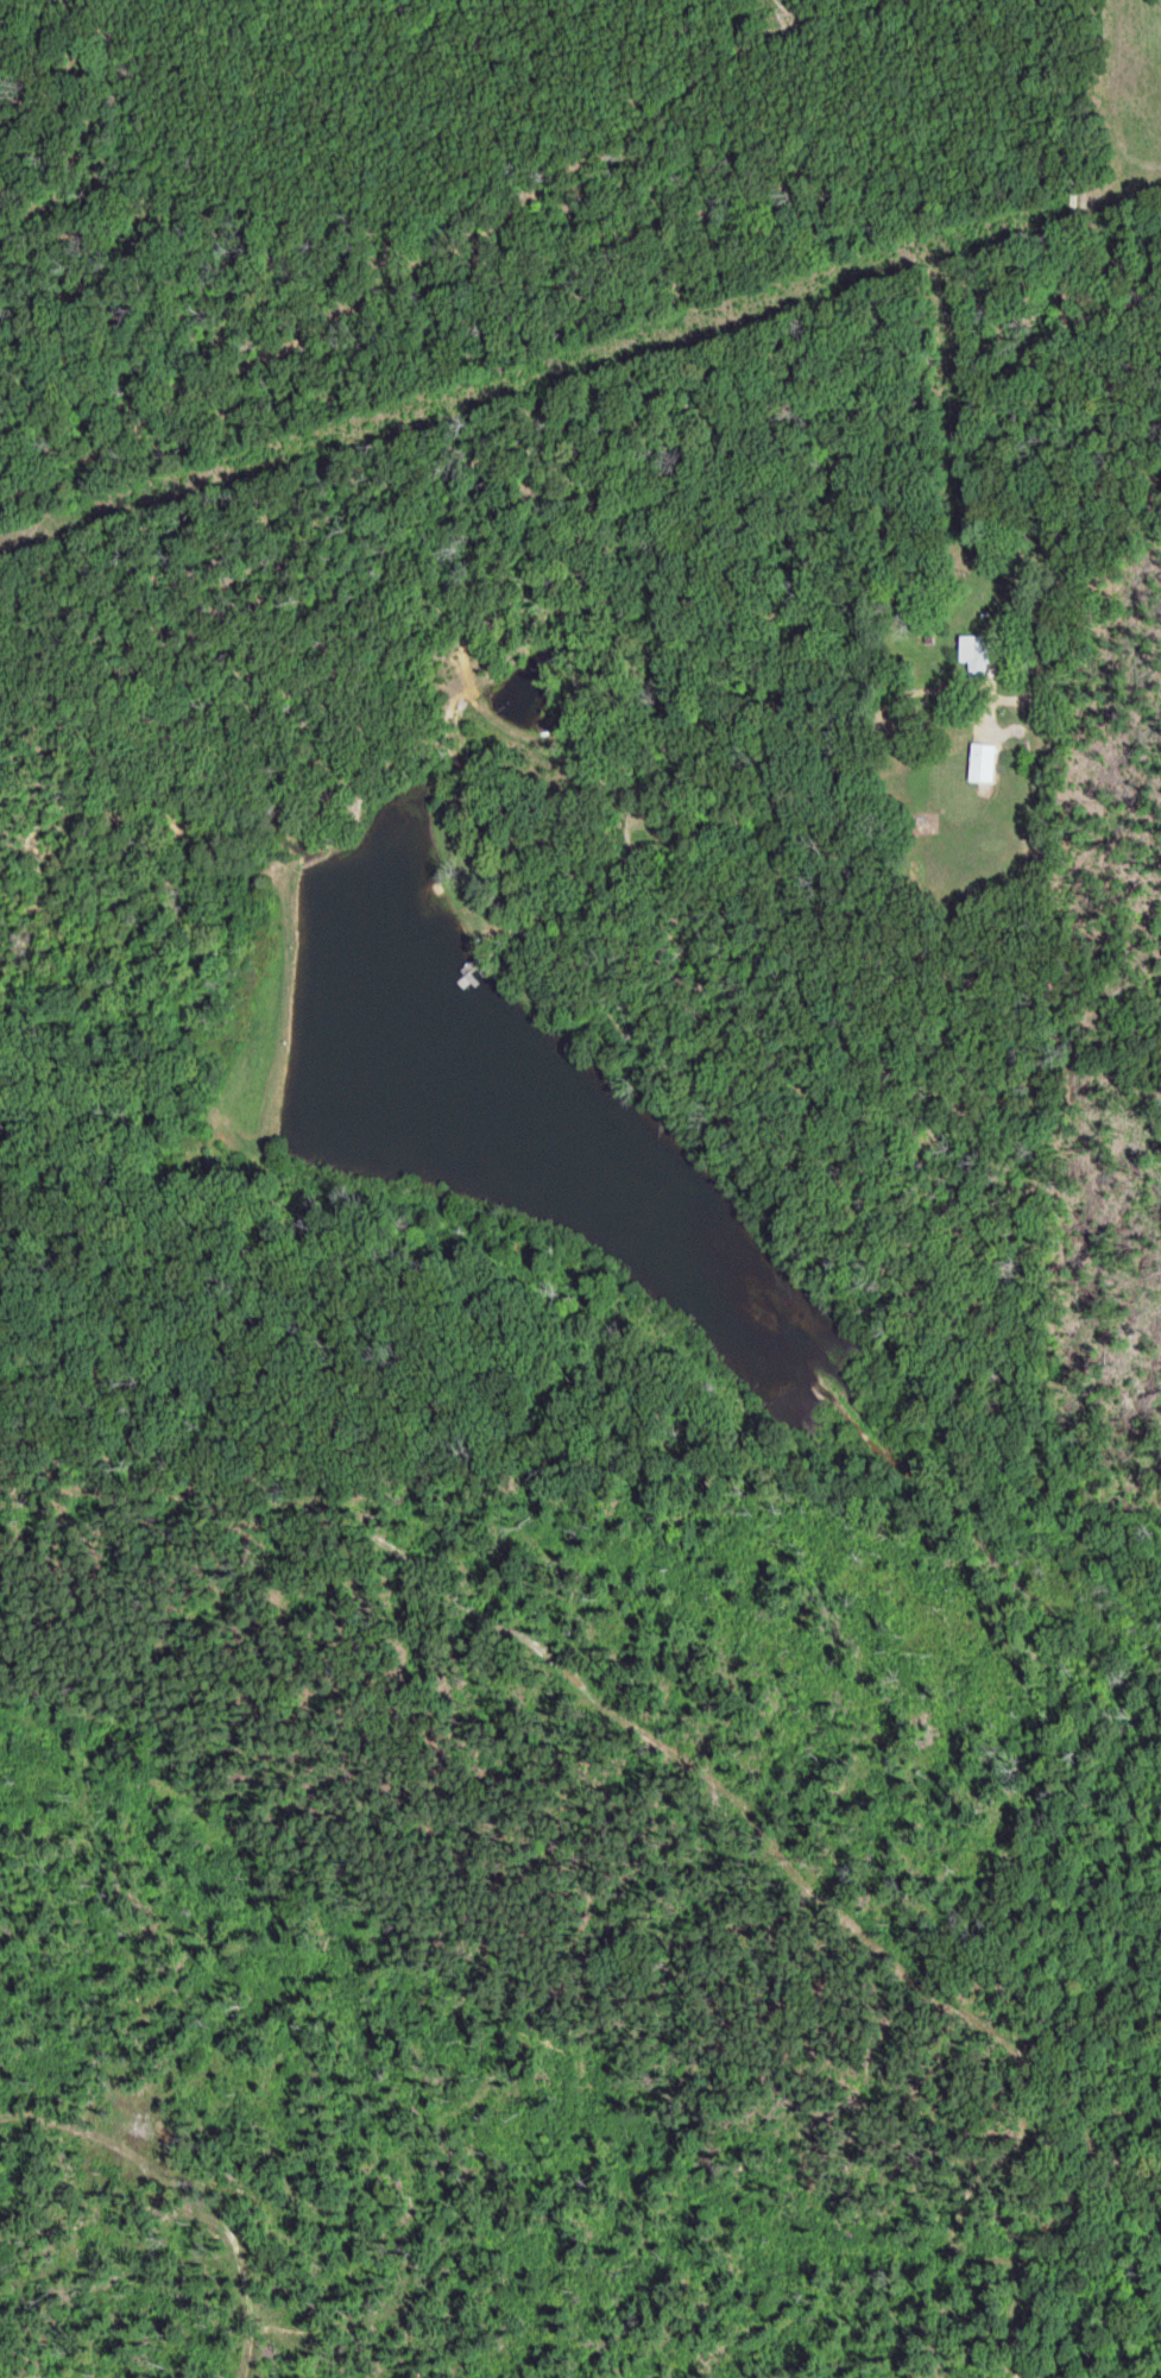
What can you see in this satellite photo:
road: (444, 235)
road: (1056, 313)
building: (991, 761)
road: (1118, 2025)

